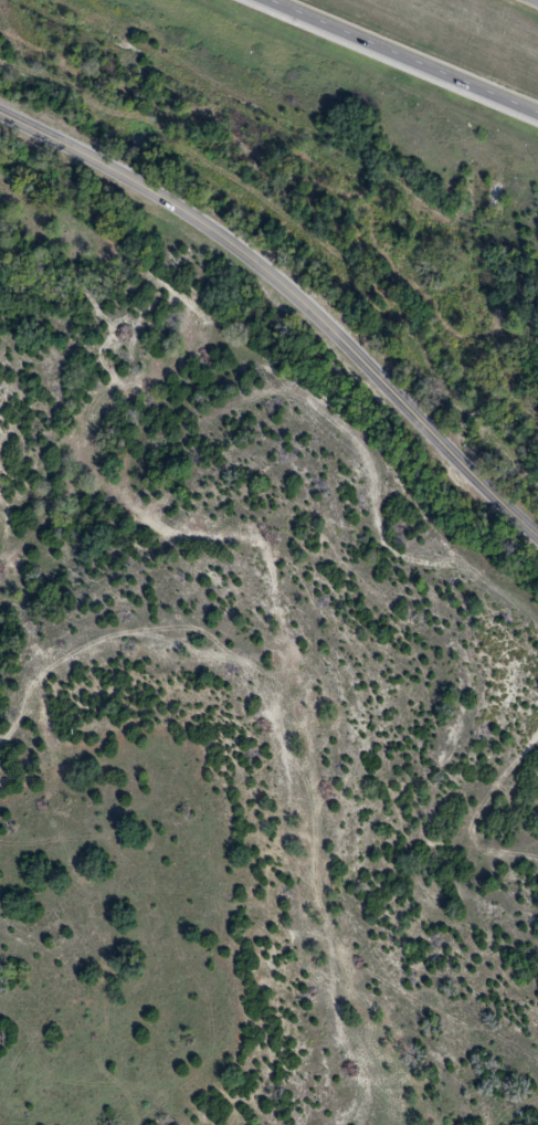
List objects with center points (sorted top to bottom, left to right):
road: (400, 59)
road: (292, 292)

